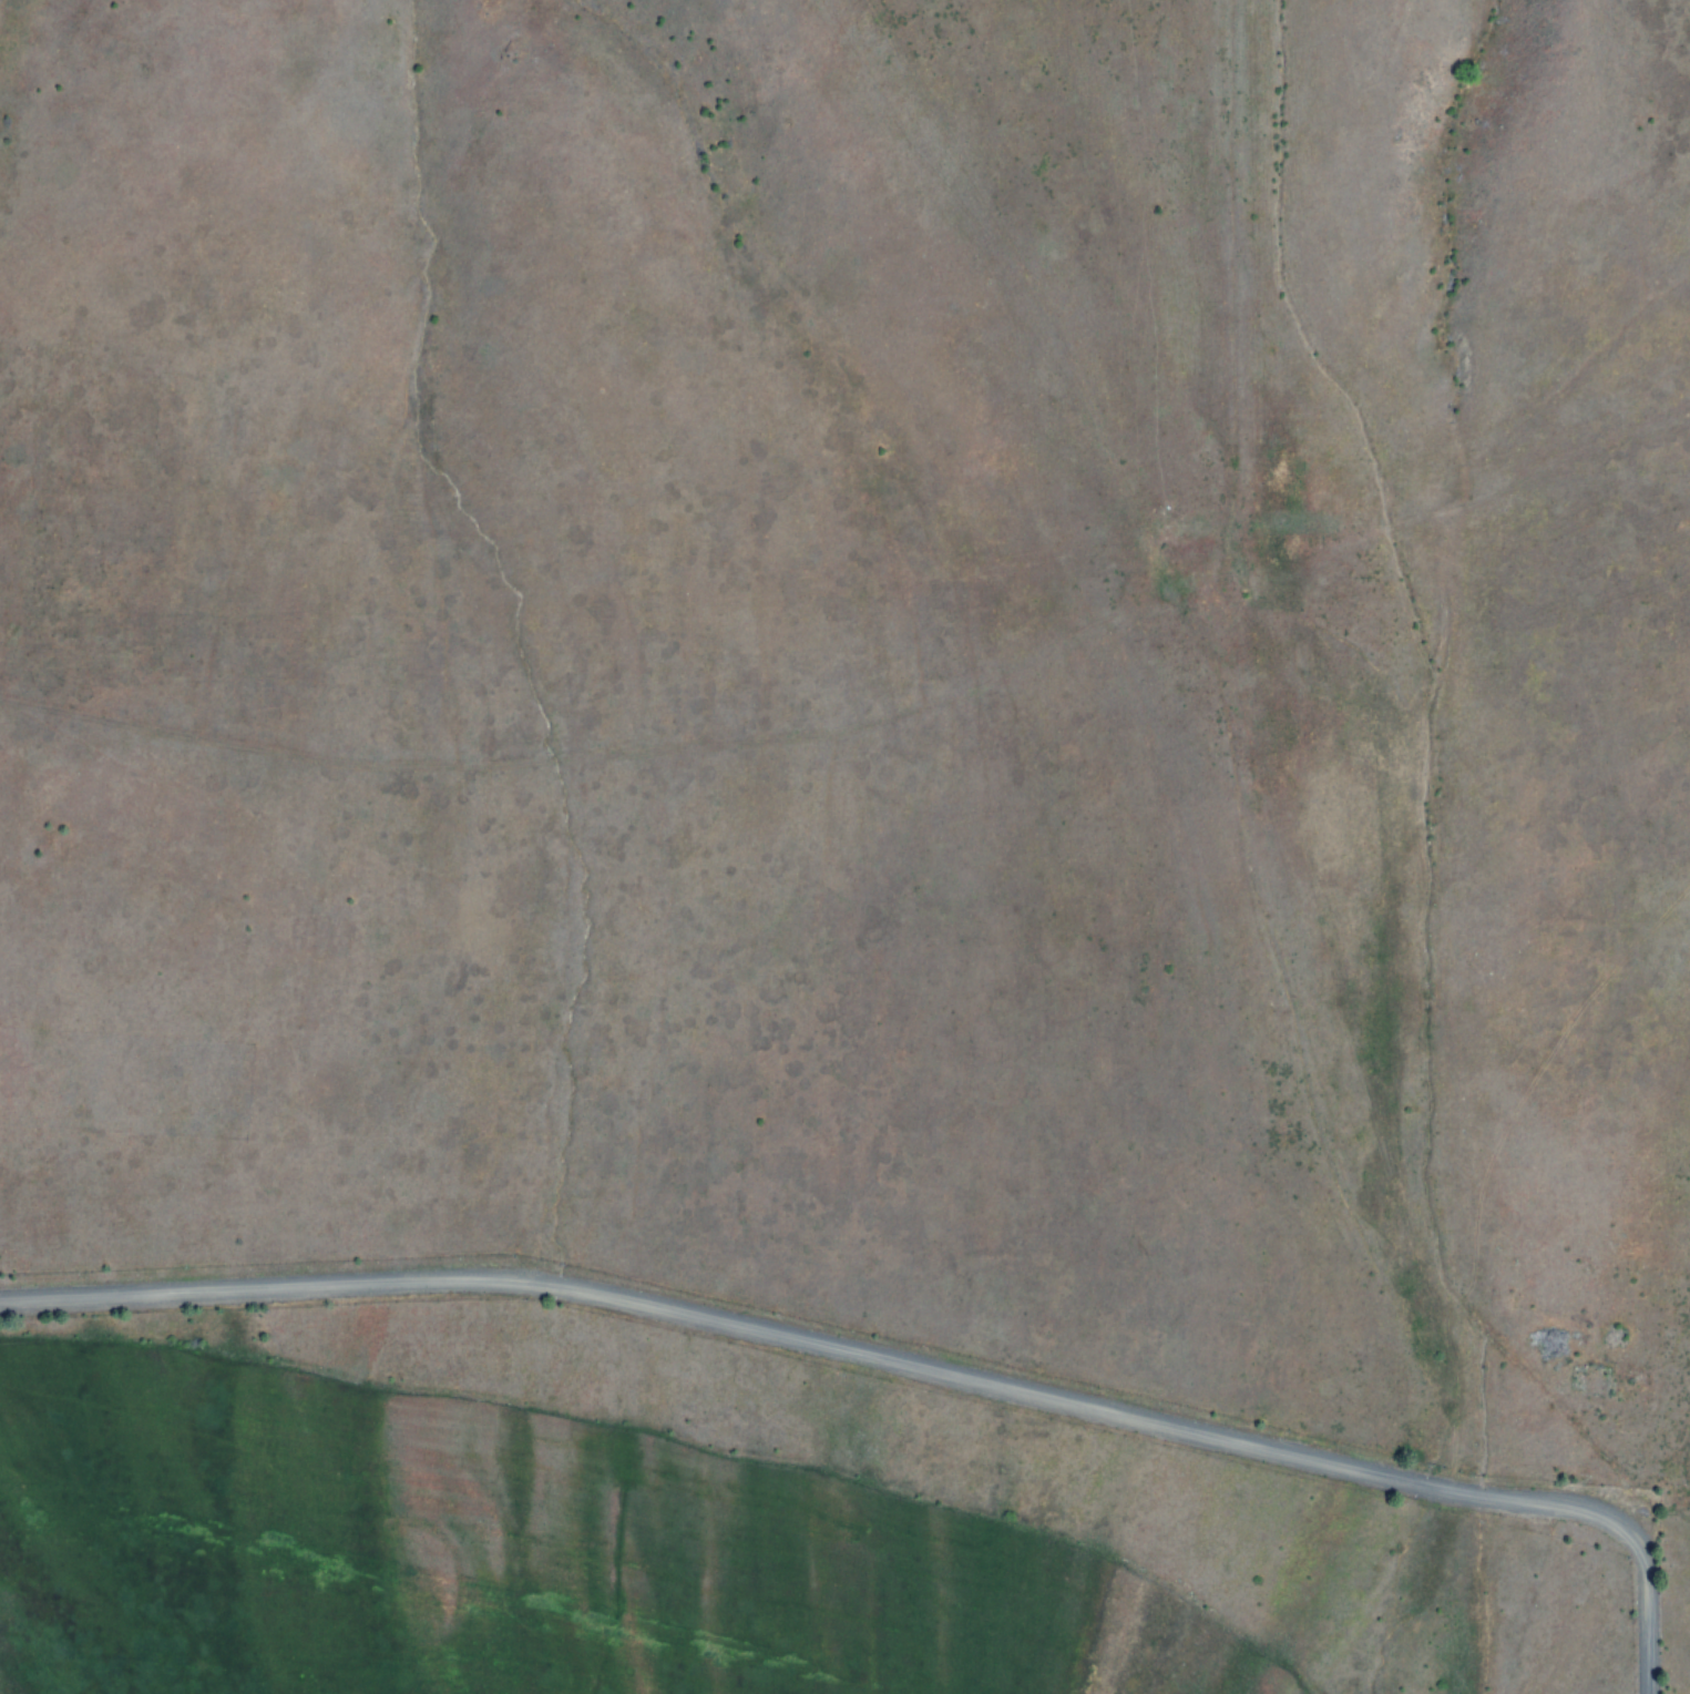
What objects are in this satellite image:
road: (900, 1376)

